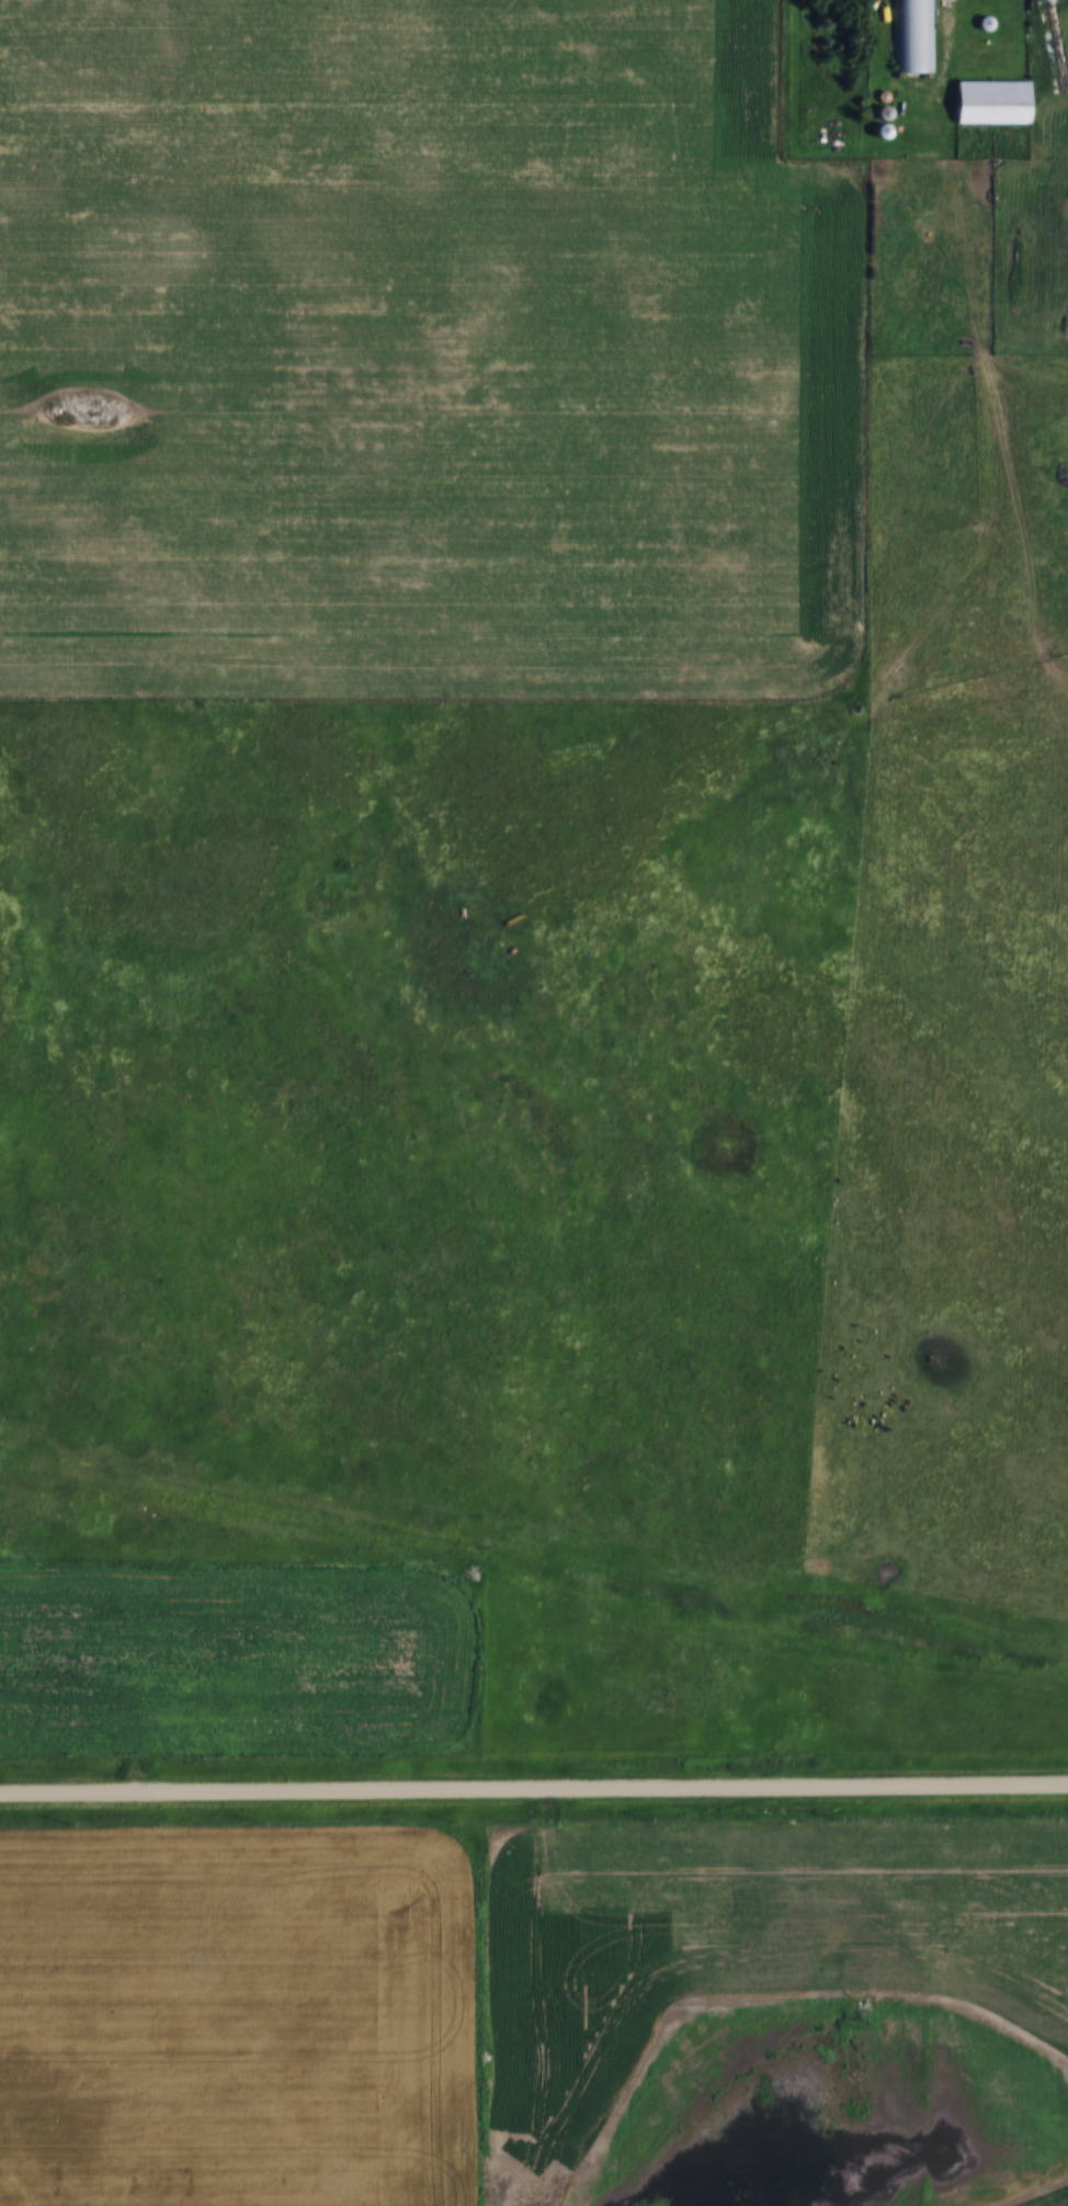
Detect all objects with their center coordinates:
building: (914, 33)
building: (992, 101)
road: (534, 1792)

